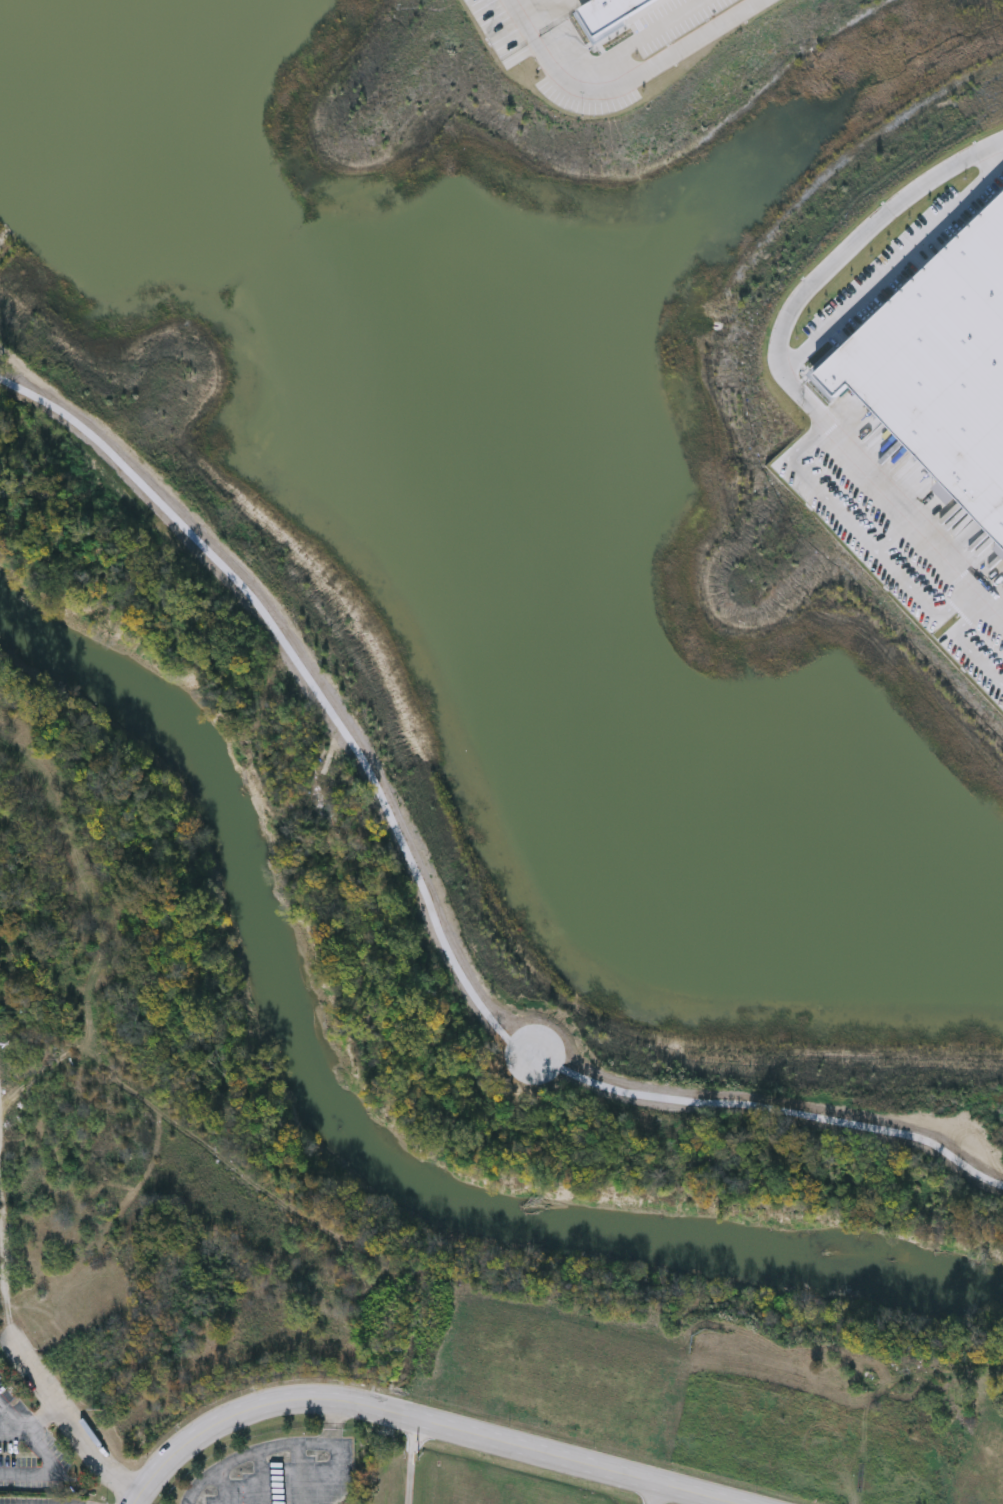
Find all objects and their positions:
building: (612, 11)
road: (629, 70)
road: (905, 259)
road: (785, 359)
road: (432, 930)
river: (348, 1166)
road: (13, 1415)
road: (44, 1416)
road: (420, 1421)
road: (331, 1424)
road: (413, 1437)
road: (284, 1446)
road: (98, 1453)
road: (57, 1472)
road: (410, 1479)
road: (655, 1494)

